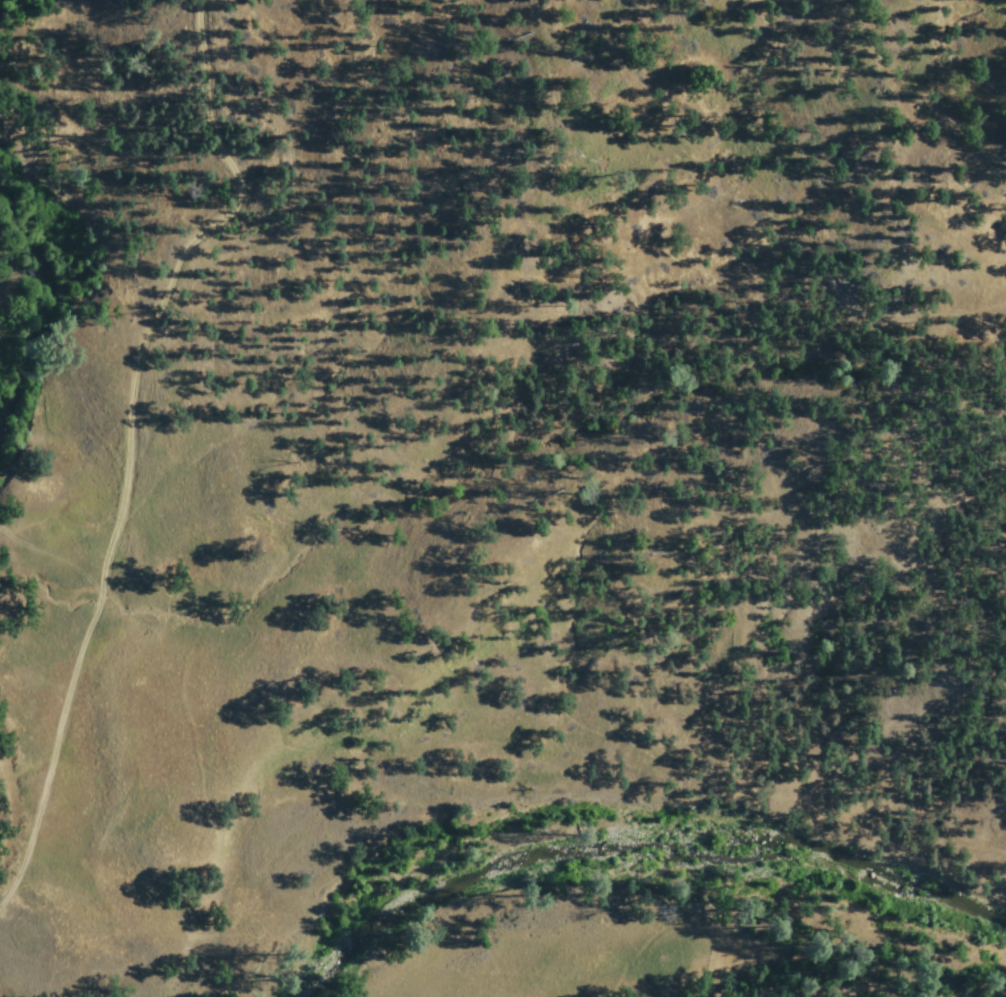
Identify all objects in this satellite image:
road: (136, 438)

